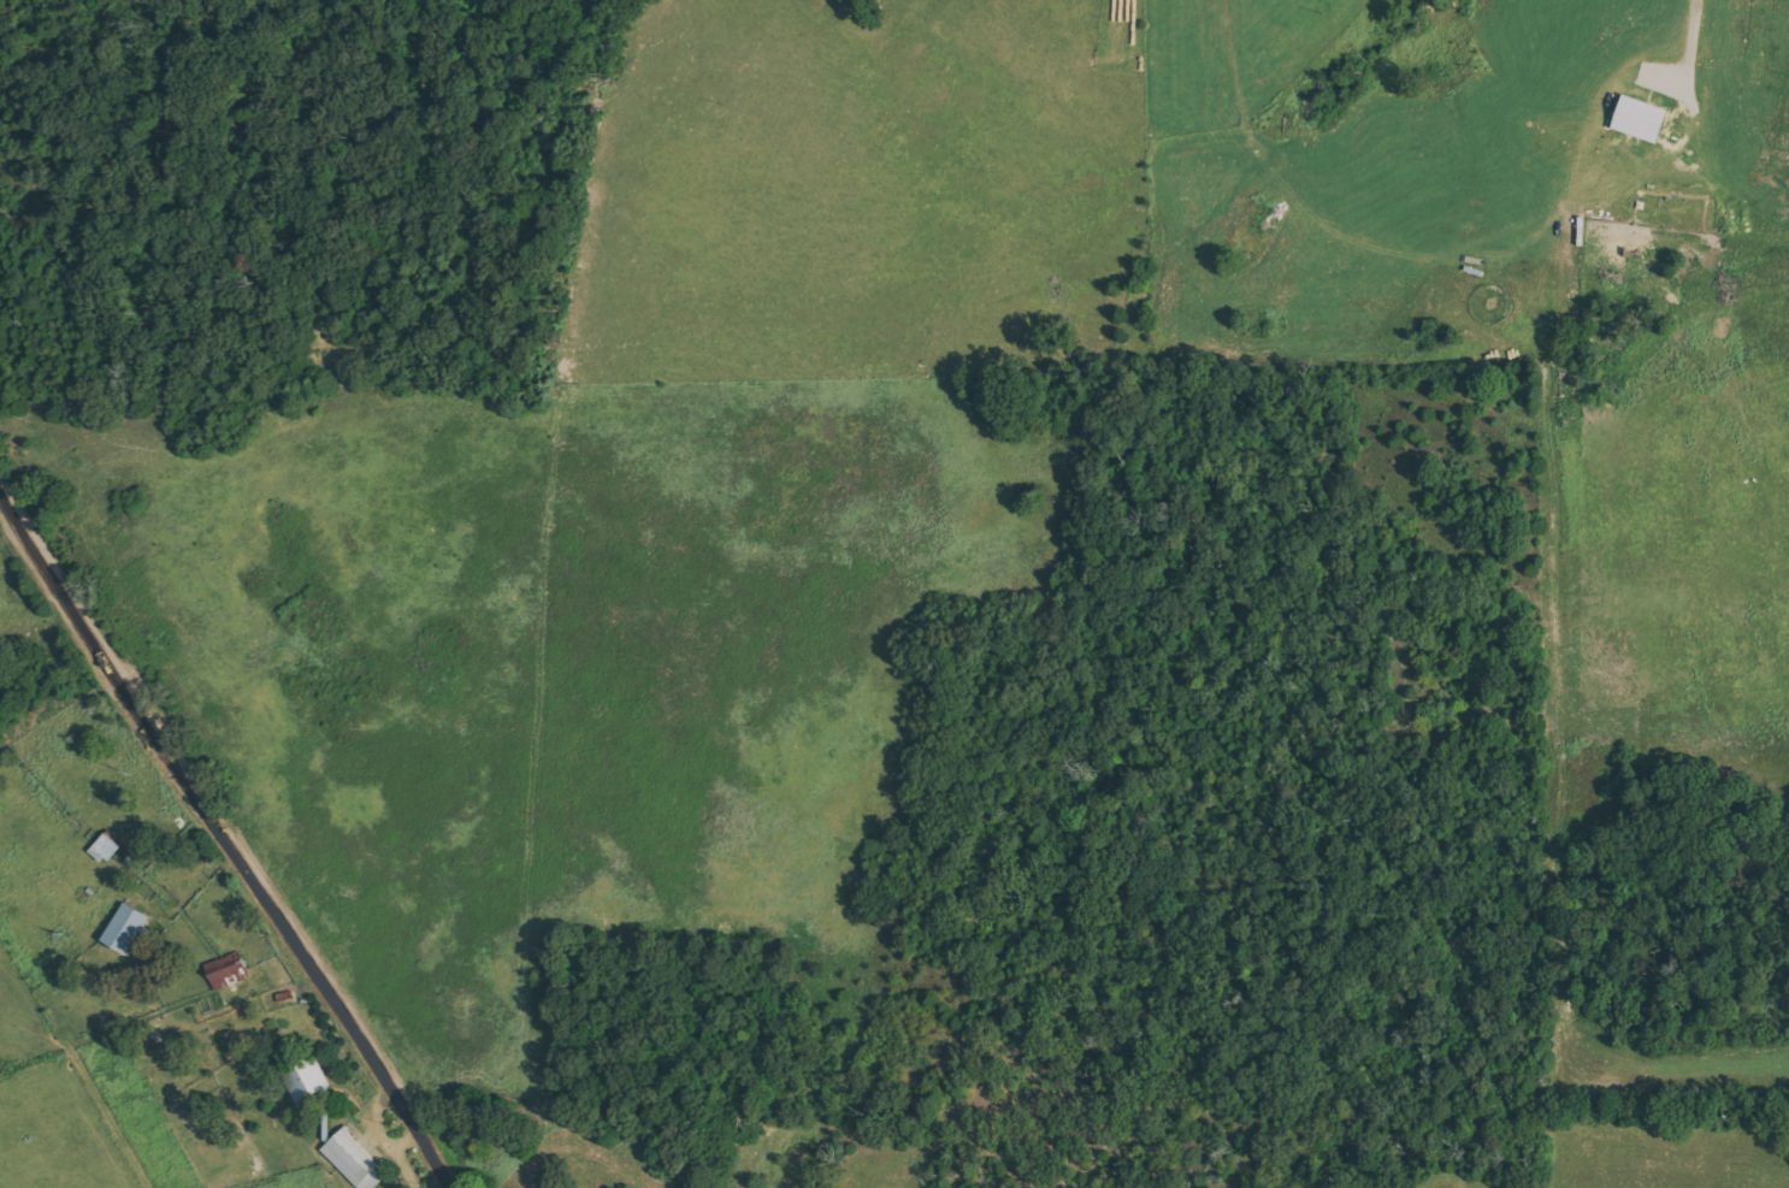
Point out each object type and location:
building: (1641, 118)
road: (228, 835)
building: (129, 930)
building: (226, 970)
building: (305, 1078)
building: (354, 1160)

